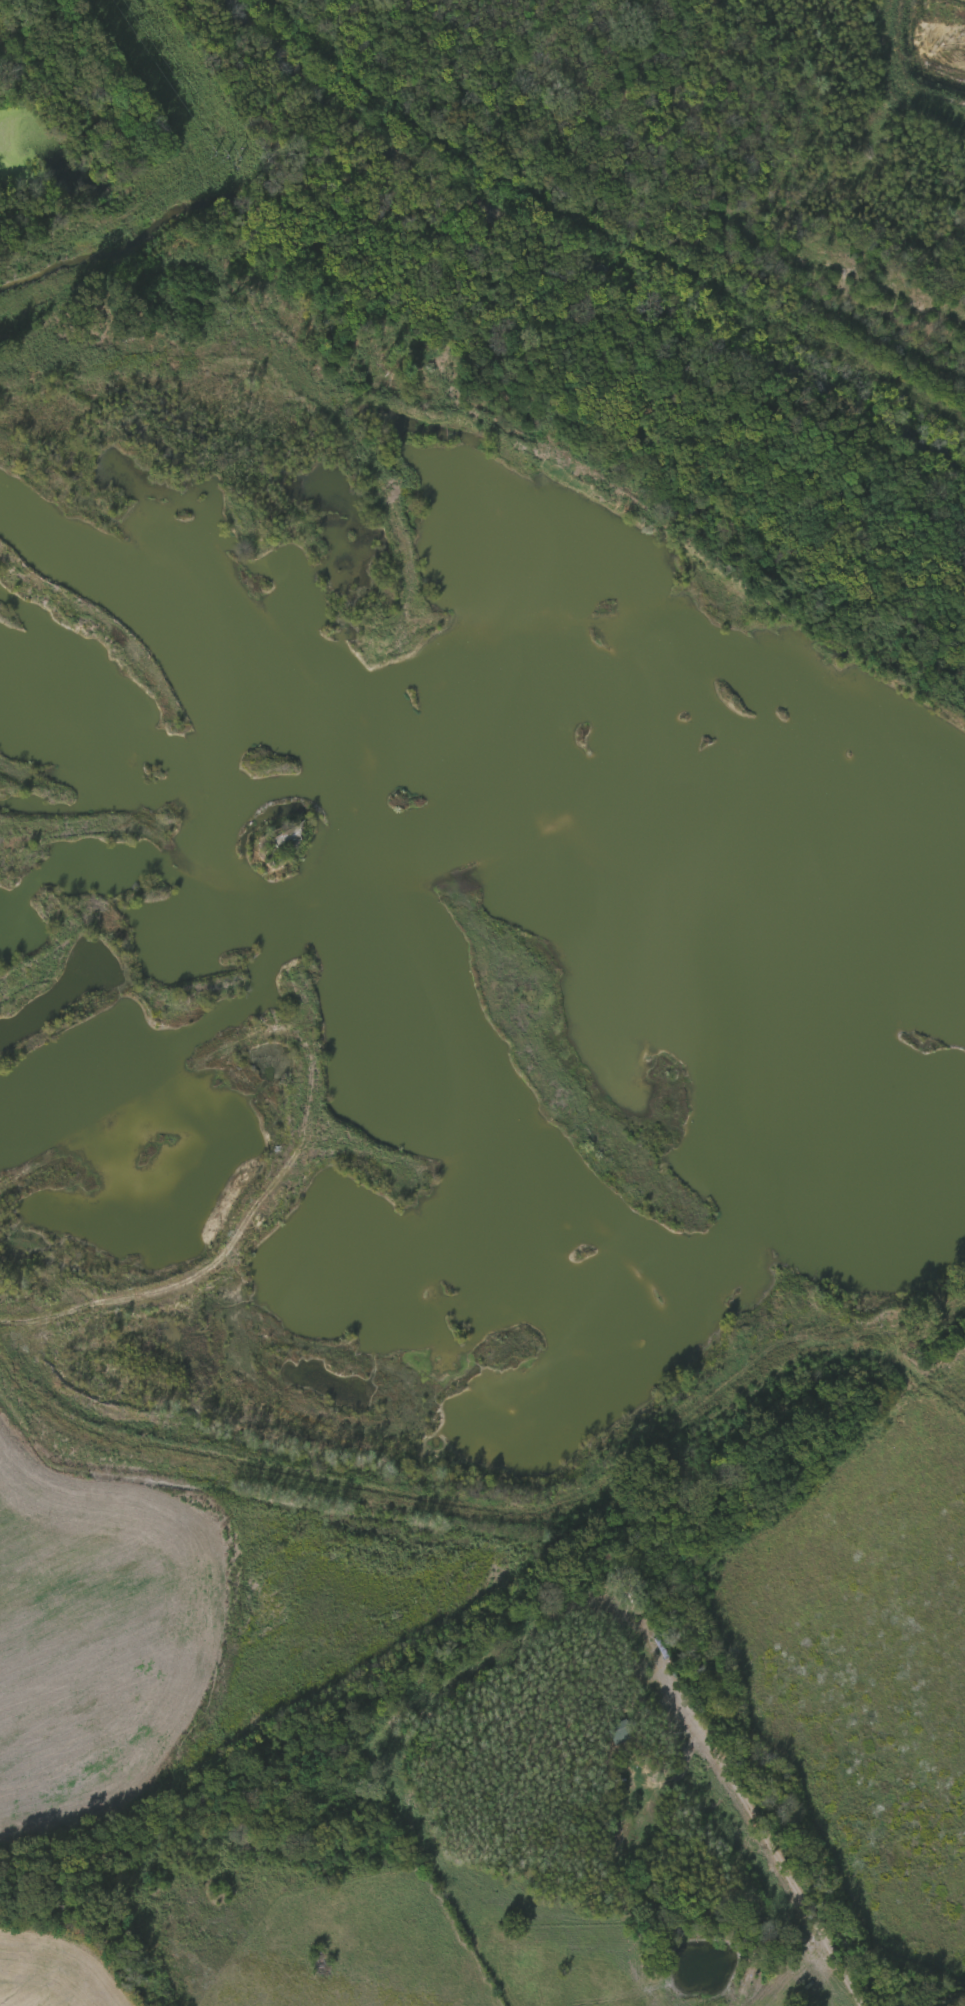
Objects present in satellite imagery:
power tower: (225, 156)
road: (131, 967)

